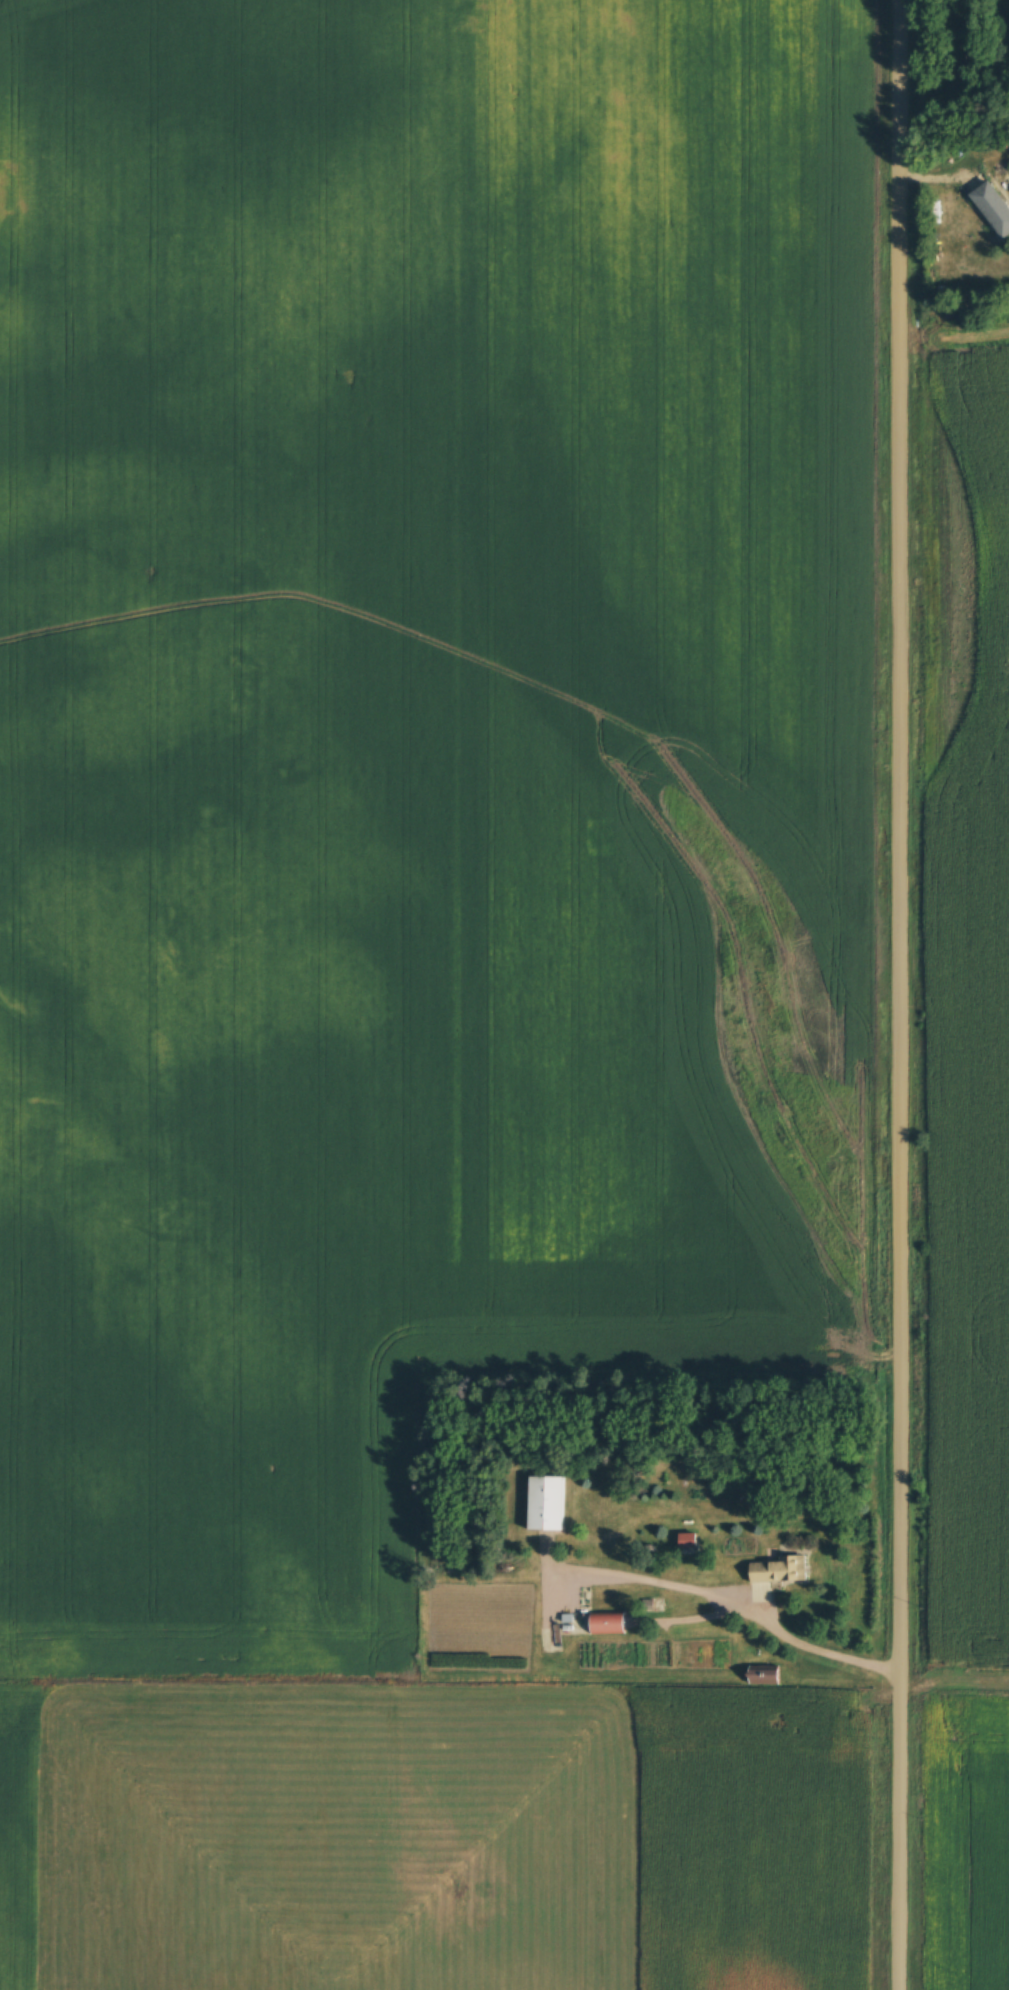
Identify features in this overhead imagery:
building: (994, 207)
road: (900, 995)
building: (547, 1503)
building: (690, 1540)
building: (780, 1570)
road: (733, 1598)
building: (766, 1675)

